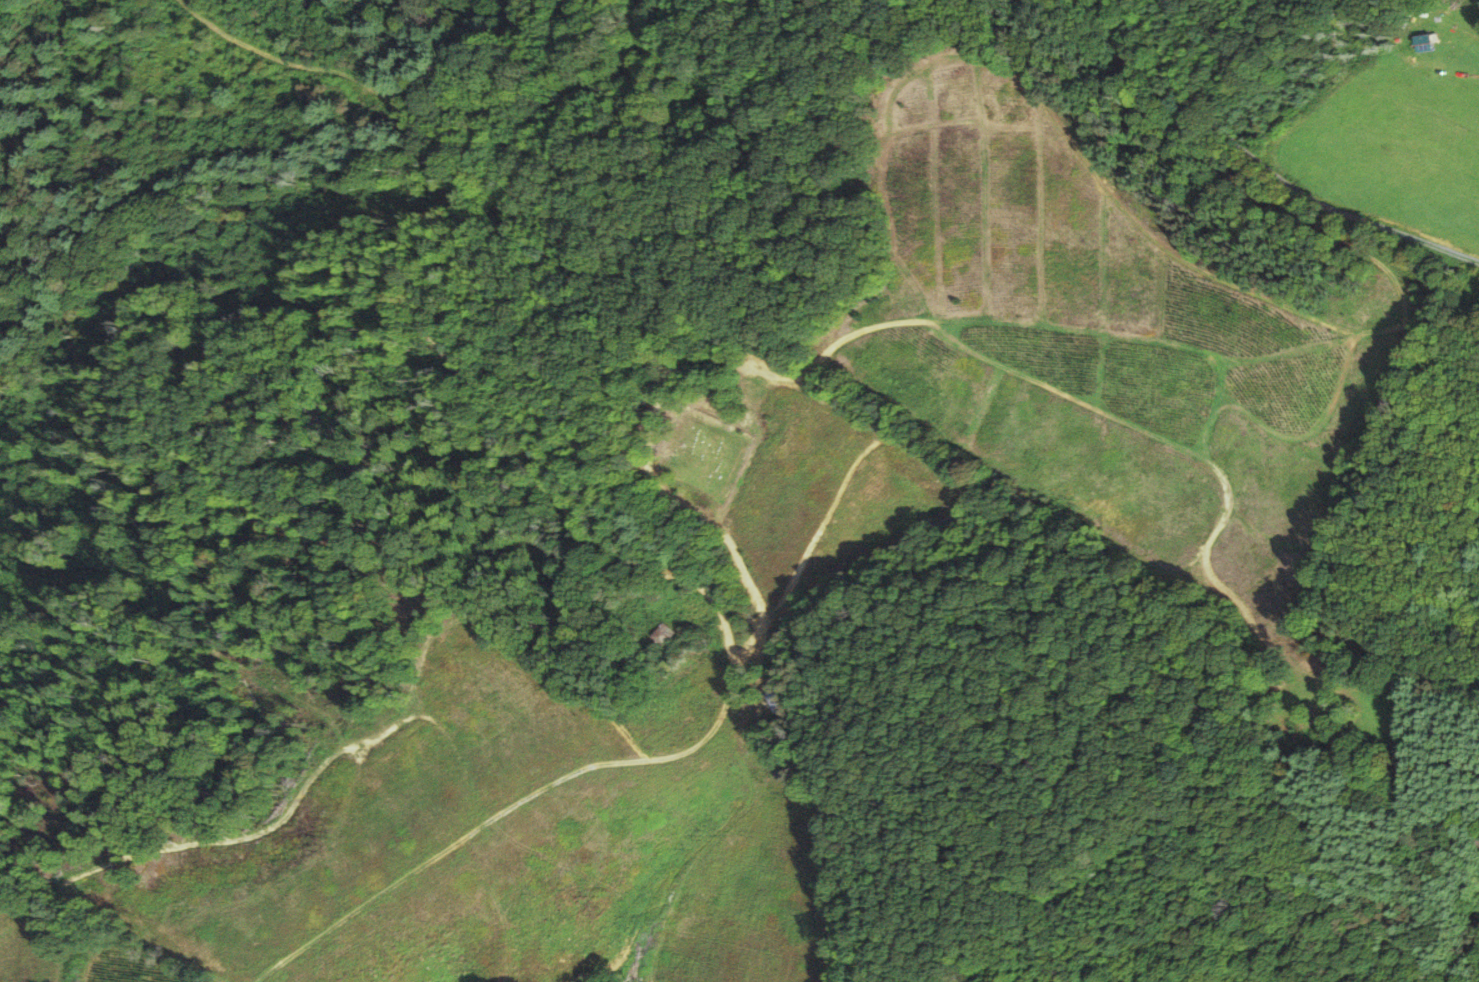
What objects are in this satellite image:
road: (1269, 186)
road: (577, 519)
building: (662, 634)
road: (811, 827)

